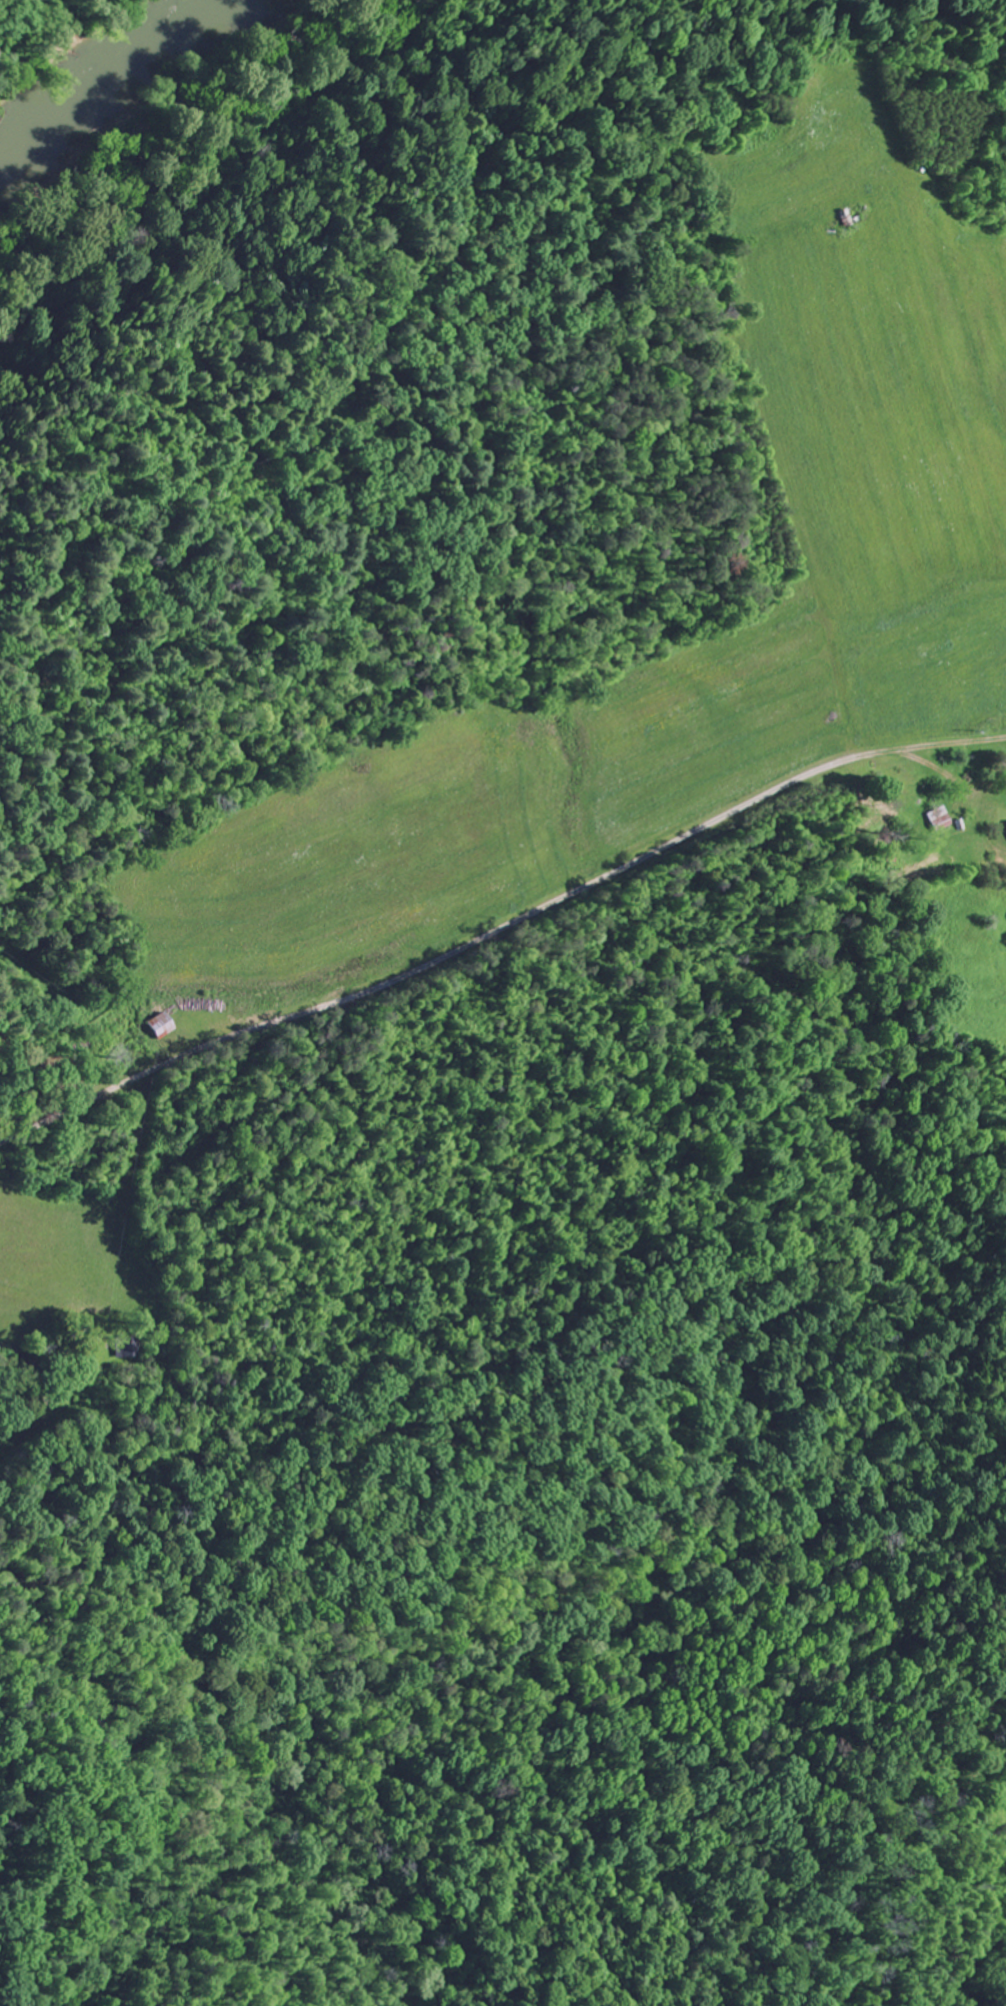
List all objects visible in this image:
river: (105, 76)
road: (494, 913)
building: (170, 1030)

